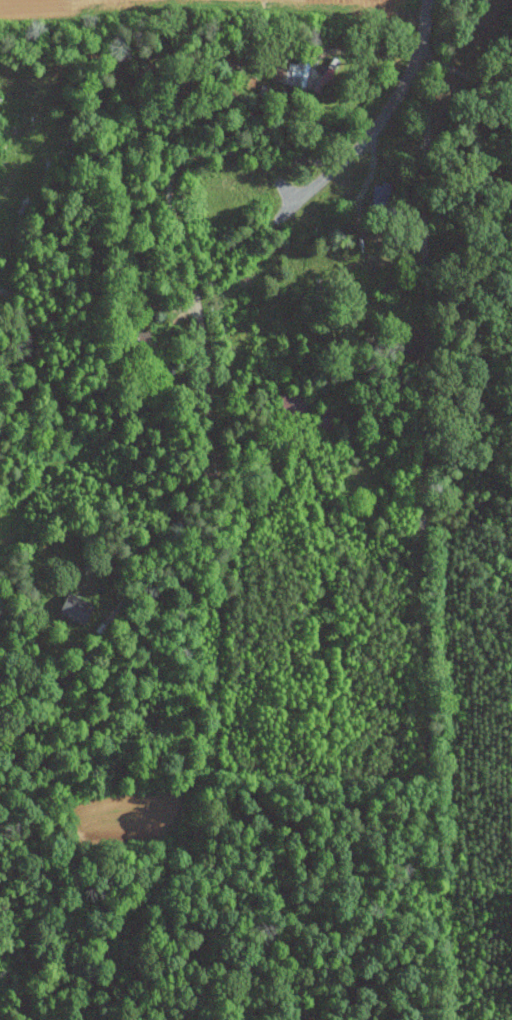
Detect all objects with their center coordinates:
building: (300, 71)
road: (463, 73)
road: (401, 85)
road: (314, 186)
building: (380, 199)
road: (202, 341)
road: (417, 540)
building: (76, 607)

